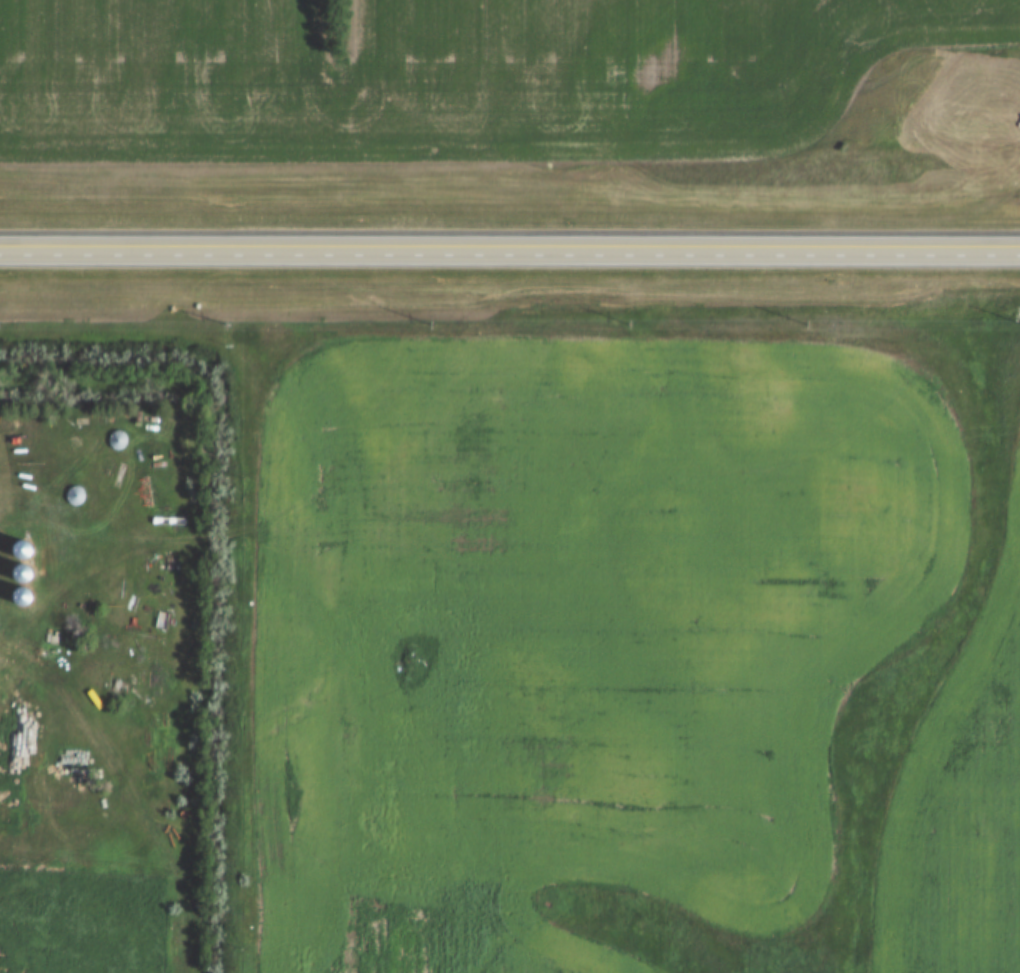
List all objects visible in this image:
road: (510, 244)
road: (129, 782)

